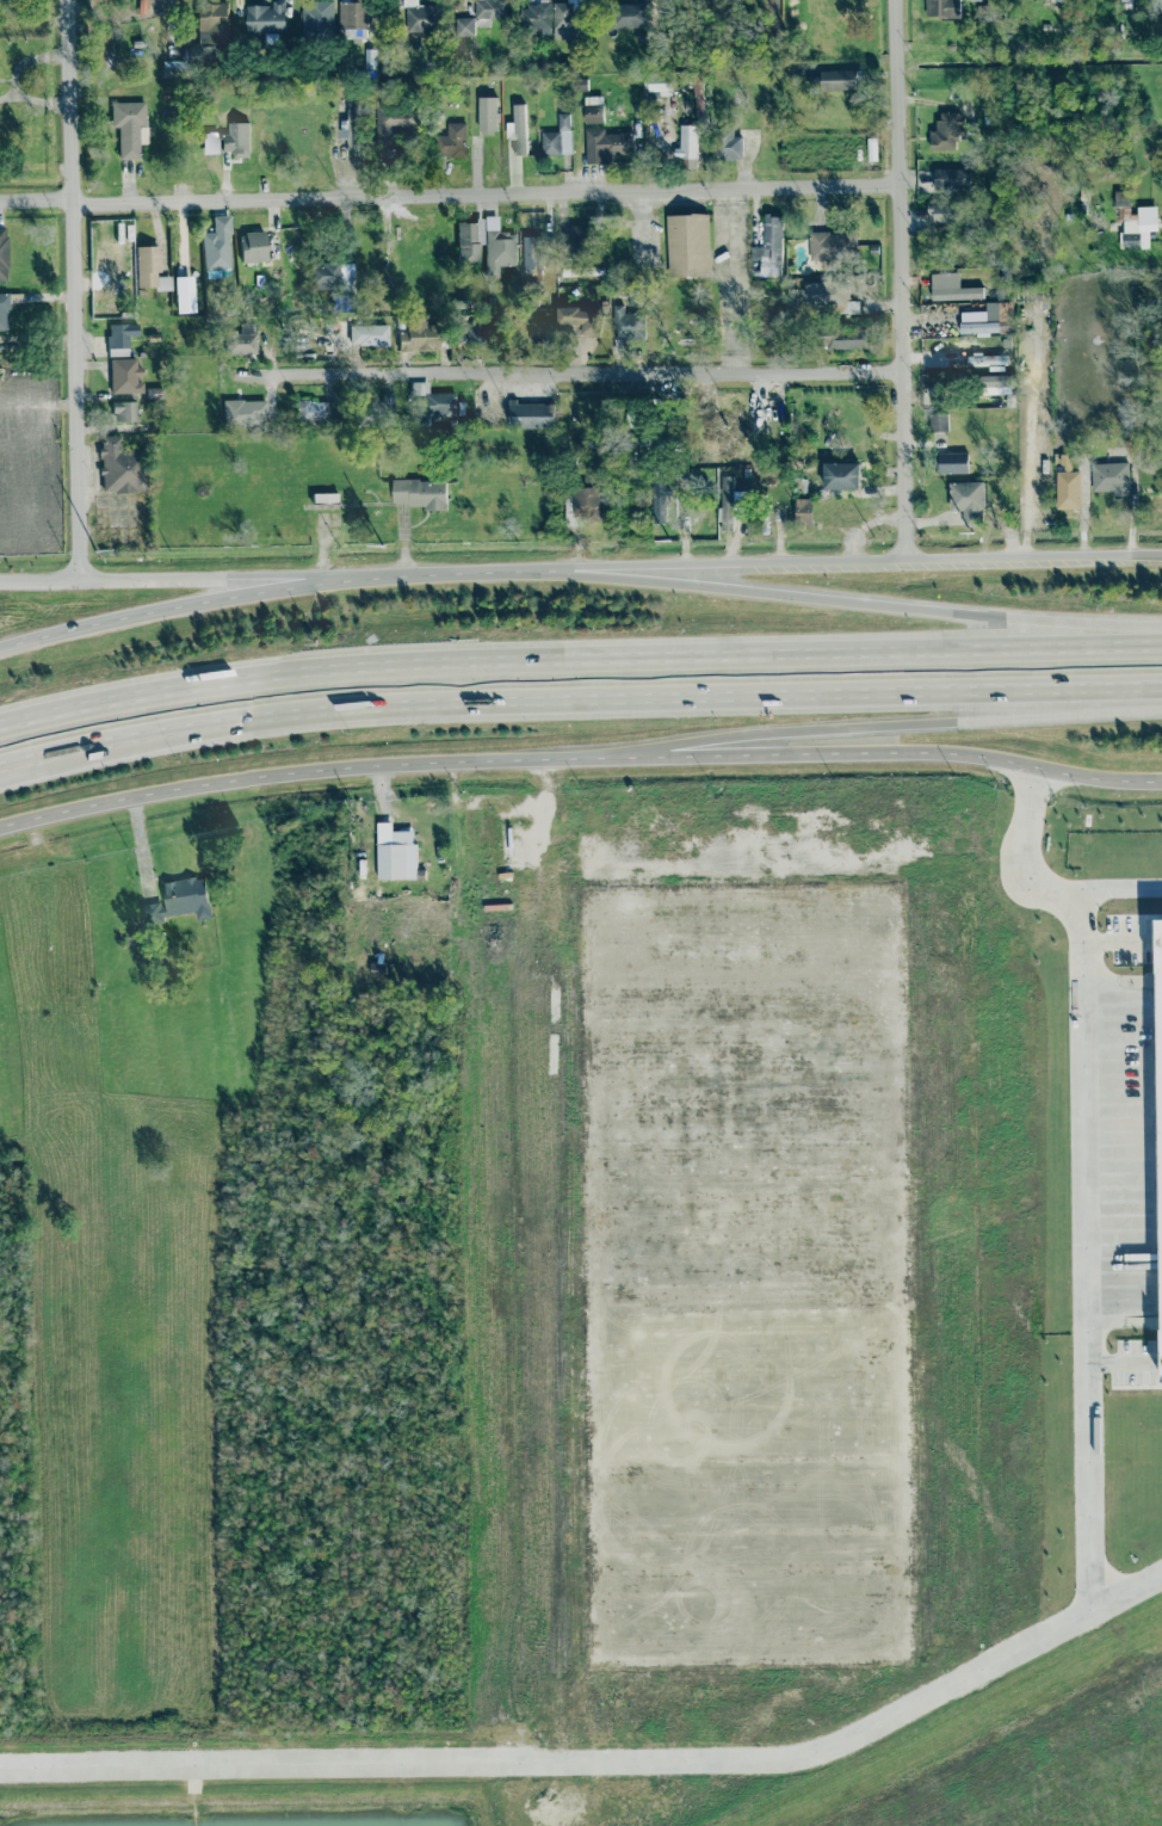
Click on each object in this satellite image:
building: (1124, 0)
building: (490, 8)
building: (941, 8)
building: (316, 16)
building: (629, 16)
building: (421, 17)
building: (536, 17)
building: (265, 18)
building: (353, 19)
building: (464, 26)
building: (210, 29)
building: (837, 80)
building: (593, 110)
building: (487, 116)
building: (393, 122)
building: (129, 127)
building: (518, 129)
building: (353, 131)
building: (945, 131)
building: (557, 137)
building: (236, 140)
building: (451, 141)
building: (210, 142)
building: (687, 142)
building: (605, 144)
building: (727, 146)
building: (951, 179)
road: (449, 193)
building: (940, 212)
building: (1133, 224)
building: (579, 233)
building: (466, 242)
building: (216, 245)
building: (687, 245)
building: (832, 245)
building: (252, 246)
building: (496, 246)
building: (769, 246)
building: (2, 253)
building: (531, 254)
building: (148, 269)
building: (325, 276)
building: (345, 276)
road: (901, 278)
building: (951, 288)
road: (73, 289)
building: (828, 296)
building: (2, 309)
building: (984, 317)
building: (577, 321)
building: (626, 323)
building: (542, 332)
building: (472, 333)
building: (119, 334)
building: (369, 334)
building: (418, 334)
building: (843, 338)
building: (241, 341)
road: (574, 372)
building: (124, 375)
building: (993, 382)
building: (432, 401)
building: (376, 409)
building: (123, 411)
building: (313, 411)
building: (243, 412)
building: (531, 415)
building: (938, 421)
building: (952, 462)
building: (118, 465)
building: (841, 476)
building: (1111, 477)
building: (1067, 489)
building: (420, 493)
building: (966, 500)
building: (657, 502)
building: (728, 502)
building: (583, 505)
building: (803, 512)
road: (1120, 555)
road: (1160, 555)
road: (804, 561)
road: (488, 570)
road: (336, 575)
road: (488, 575)
road: (190, 578)
road: (39, 580)
road: (222, 597)
road: (843, 603)
road: (579, 665)
road: (577, 703)
road: (848, 729)
road: (849, 753)
road: (24, 769)
road: (265, 776)
road: (382, 785)
road: (140, 843)
building: (391, 855)
road: (1118, 888)
building: (178, 896)
building: (376, 968)
building: (1160, 1020)
road: (1126, 1593)
road: (982, 1668)

